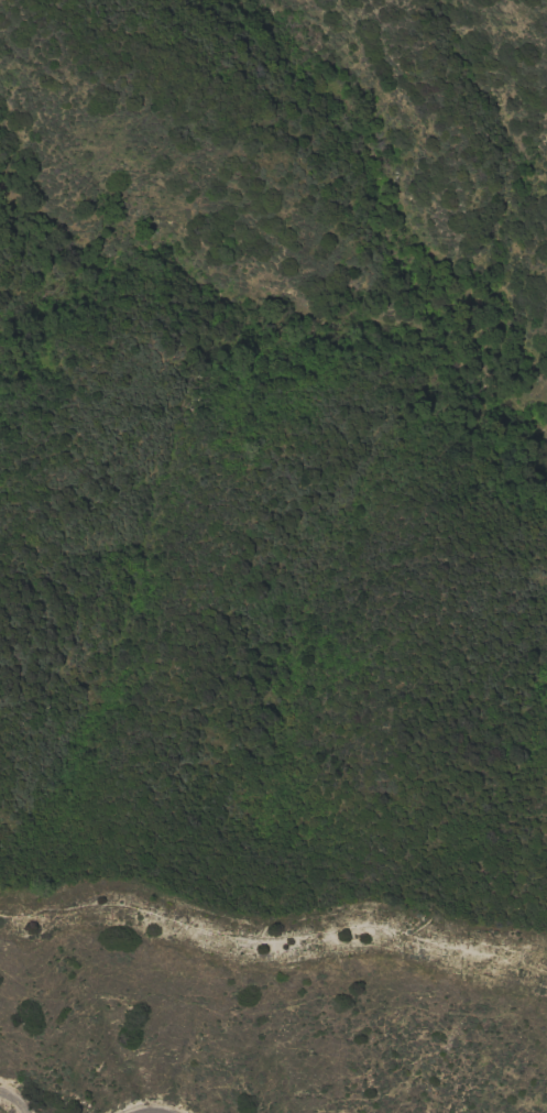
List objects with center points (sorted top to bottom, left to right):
road: (7, 1103)
road: (152, 1110)

